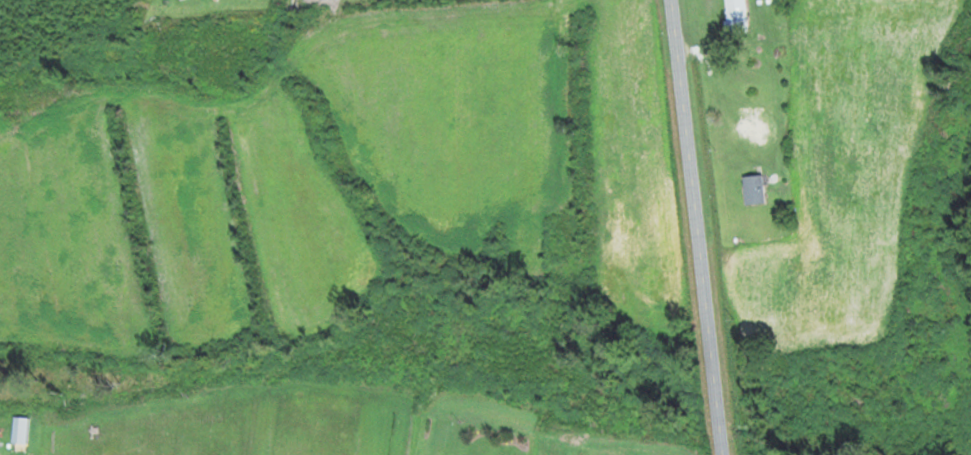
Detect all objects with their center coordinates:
building: (735, 16)
building: (753, 128)
building: (752, 188)
road: (698, 227)

